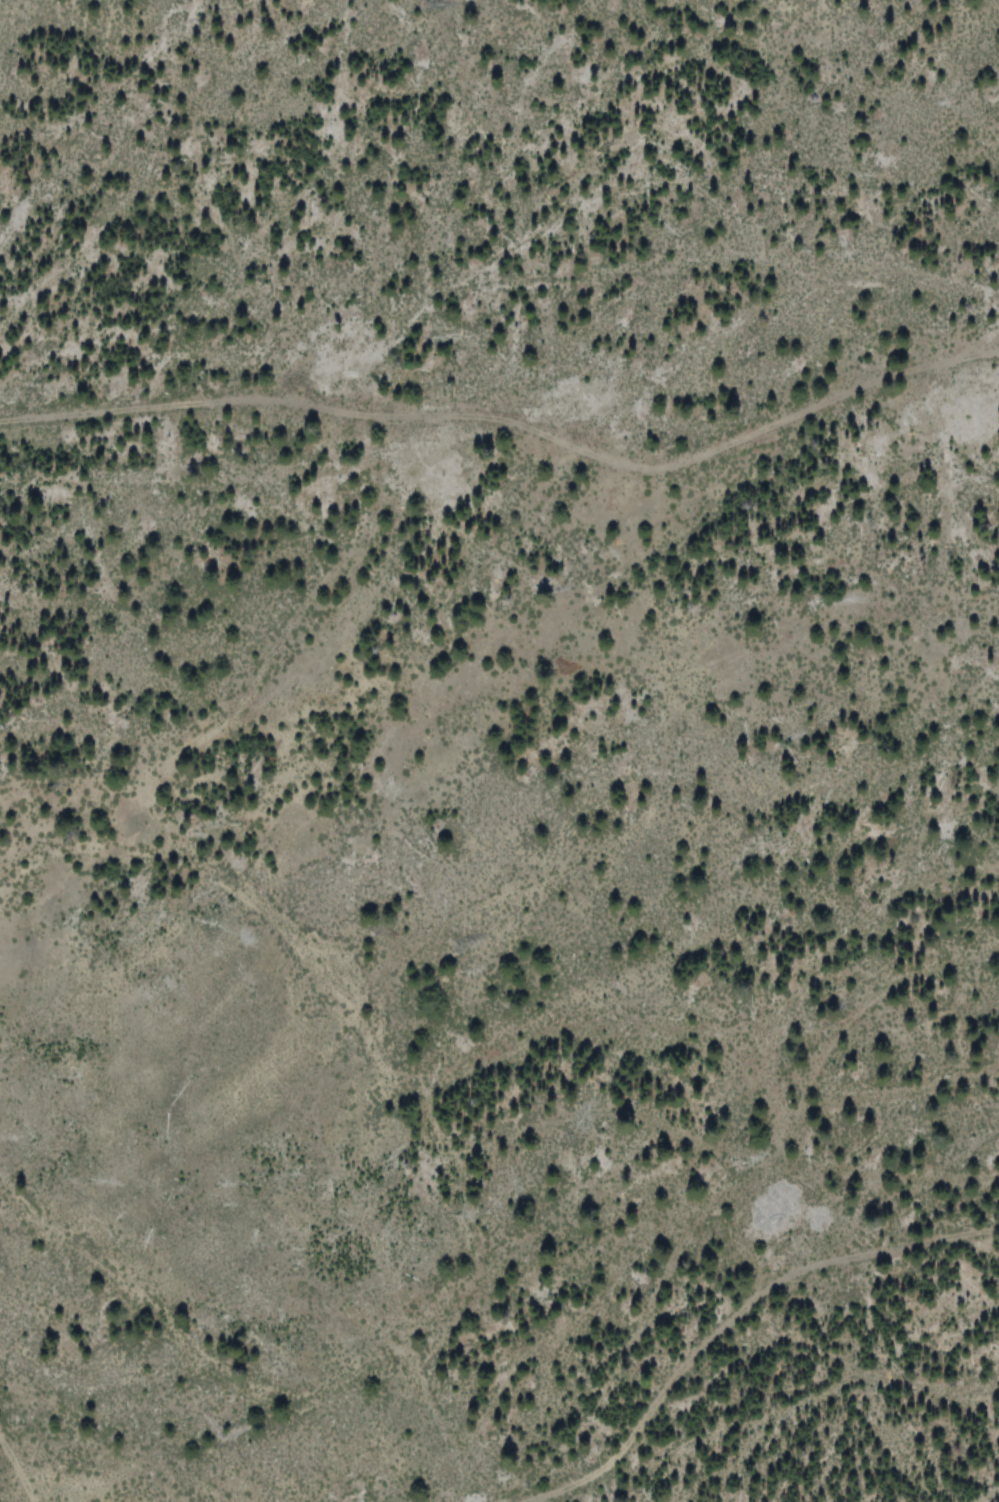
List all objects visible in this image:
road: (942, 49)

